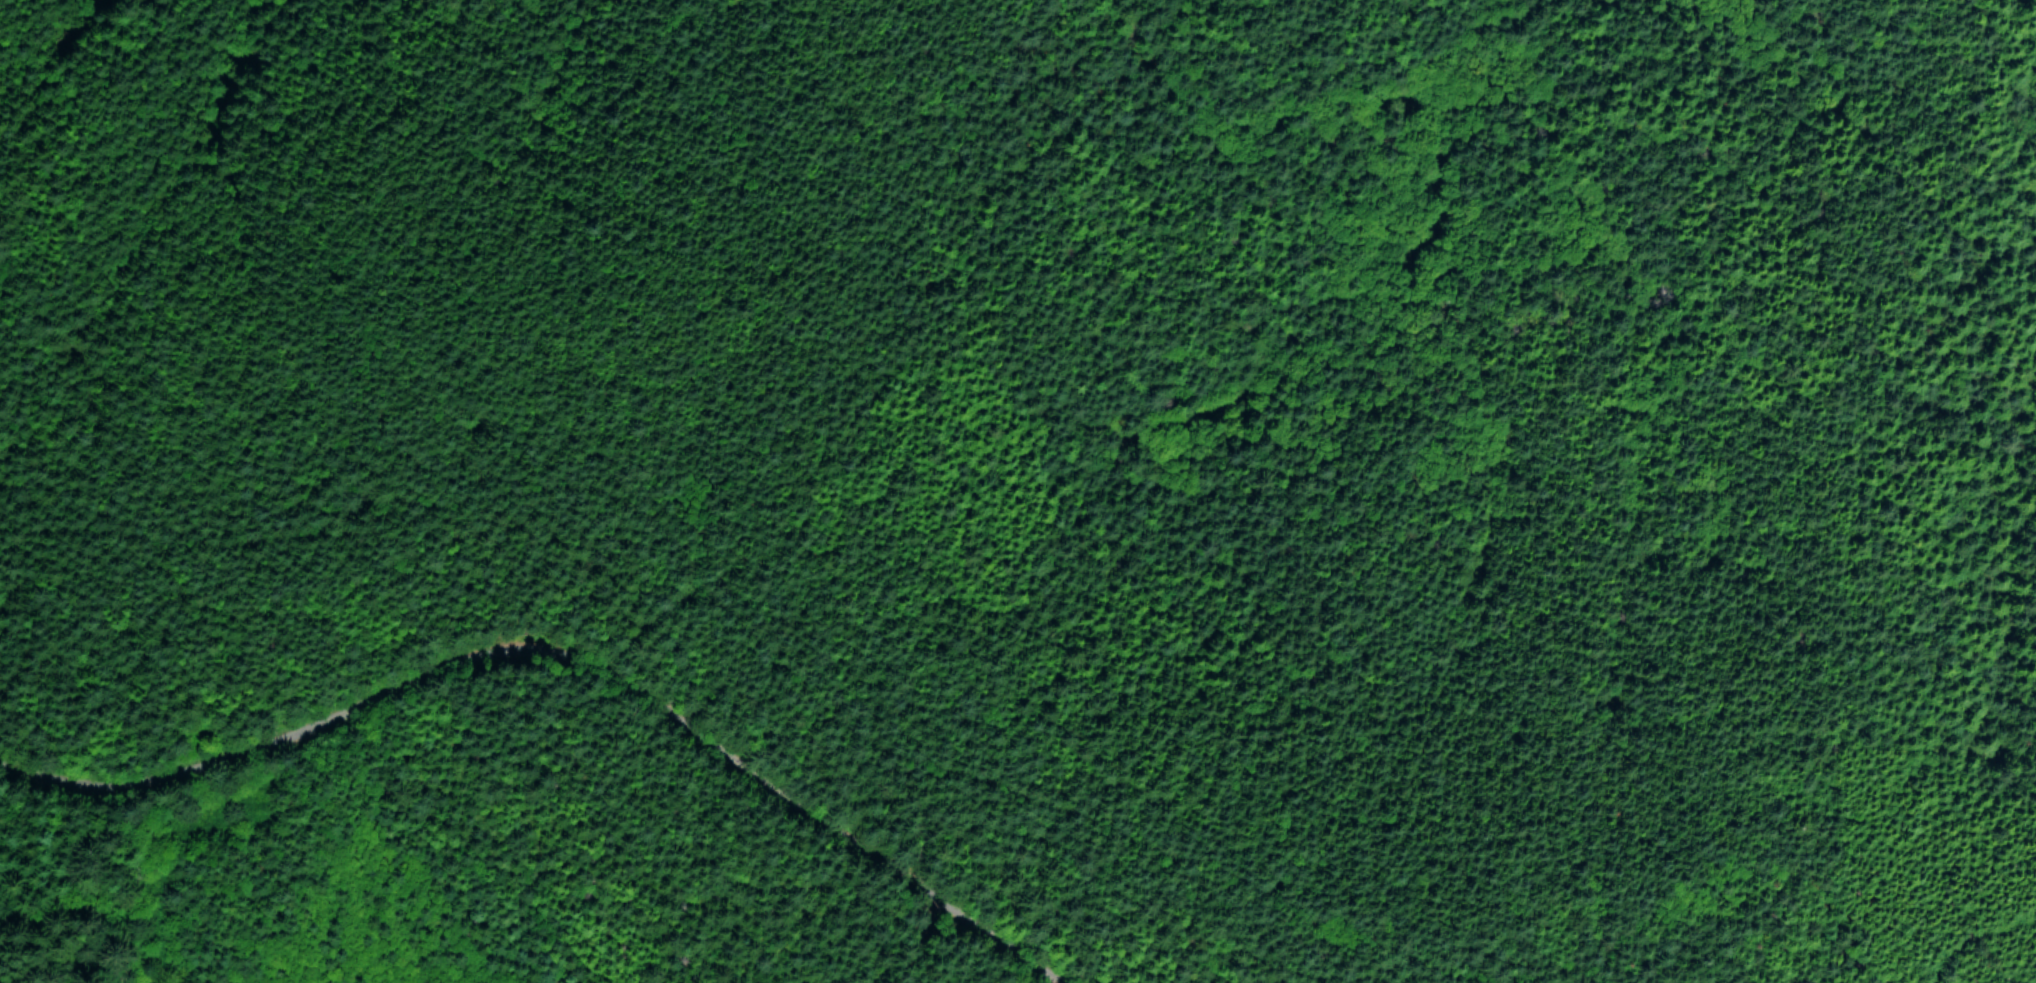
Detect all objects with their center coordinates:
road: (559, 654)

